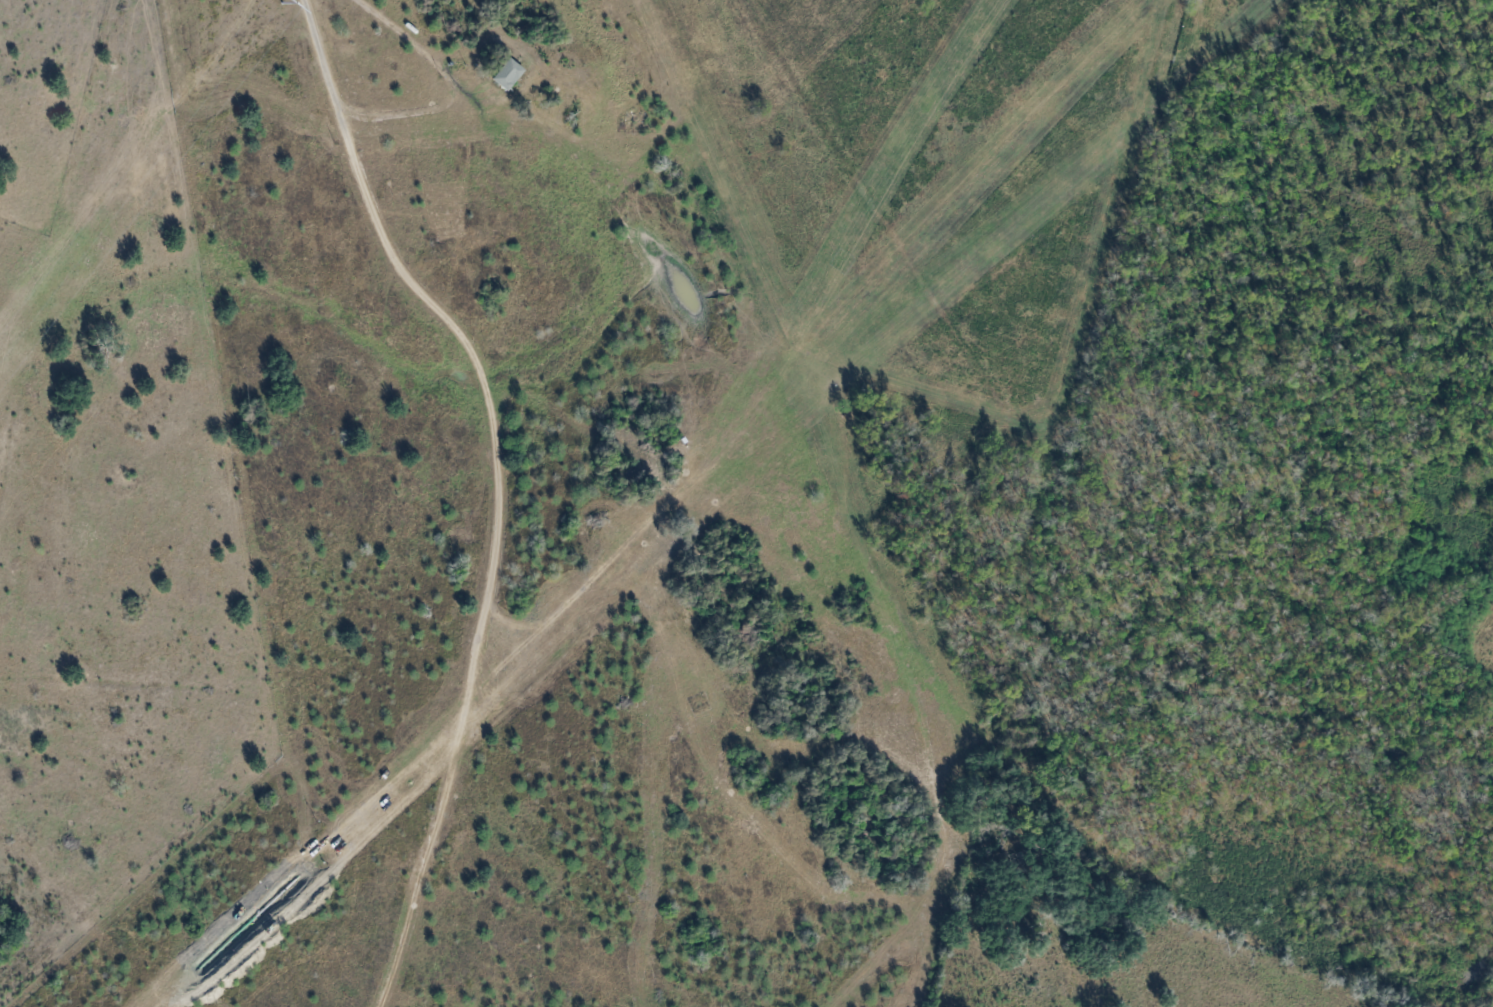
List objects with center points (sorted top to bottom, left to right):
building: (509, 68)

